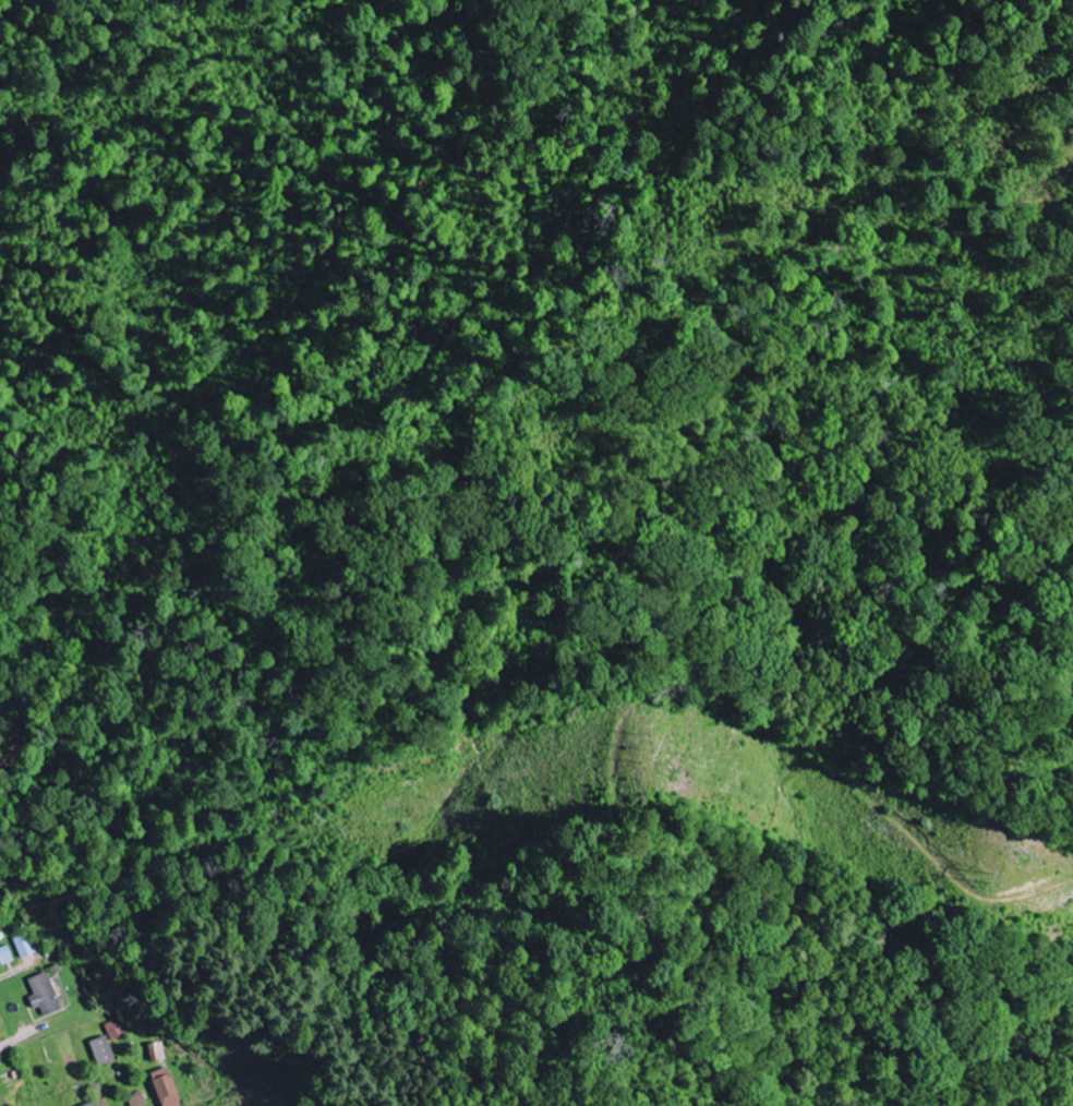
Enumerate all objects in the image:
power tower: (658, 748)
building: (23, 945)
building: (4, 955)
road: (1, 978)
building: (40, 994)
building: (114, 1029)
road: (7, 1043)
building: (99, 1050)
building: (157, 1051)
building: (162, 1087)
building: (135, 1101)
building: (87, 1104)

